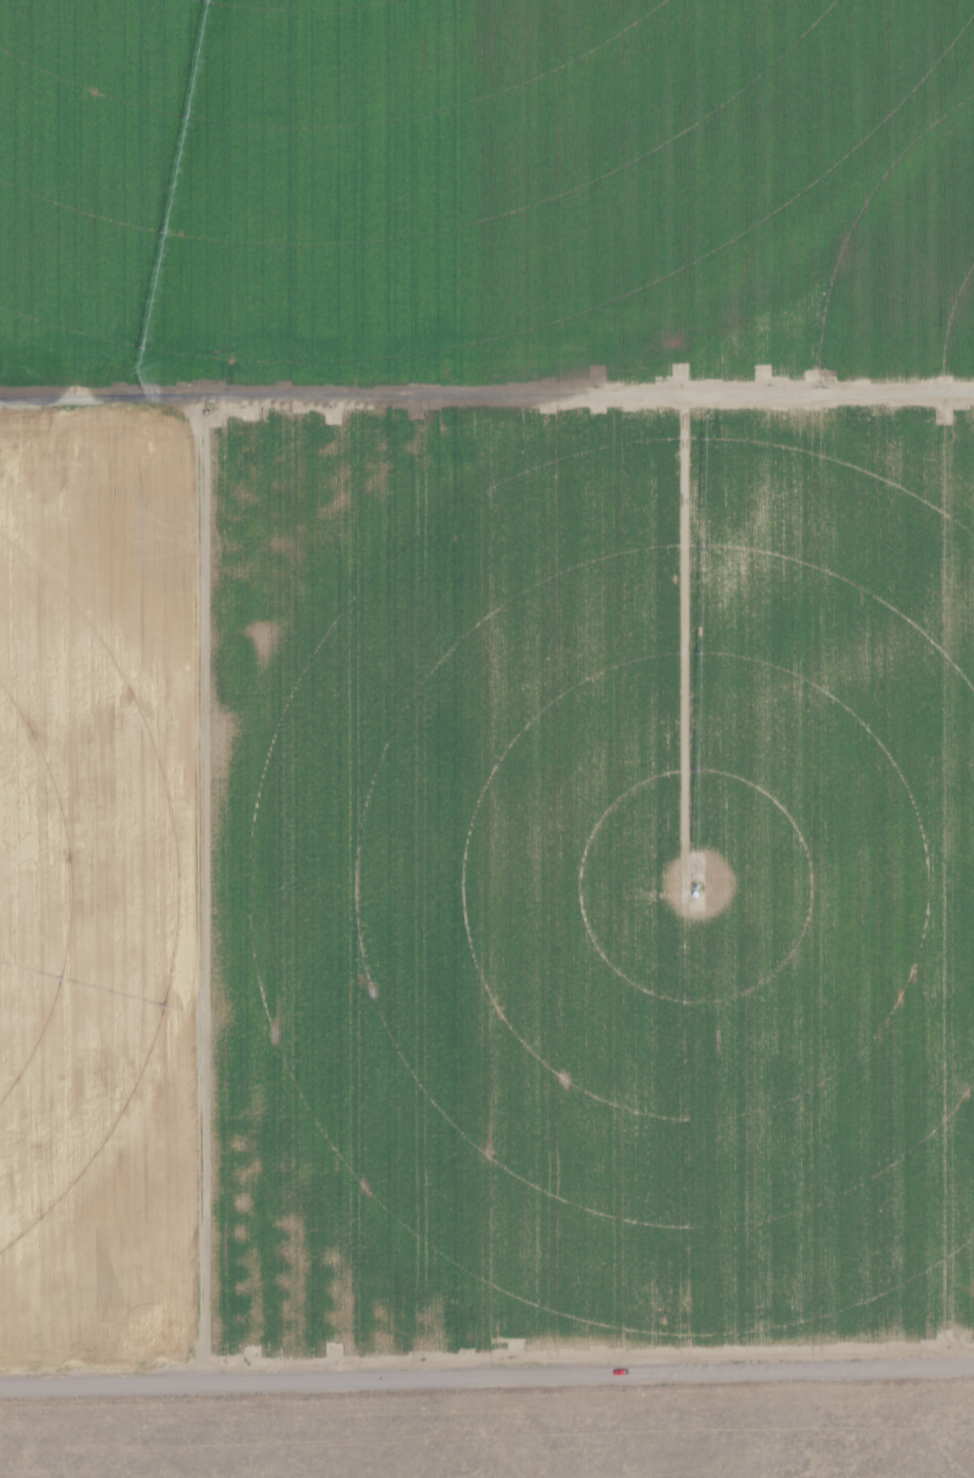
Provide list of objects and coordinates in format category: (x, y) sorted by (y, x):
road: (487, 1374)

